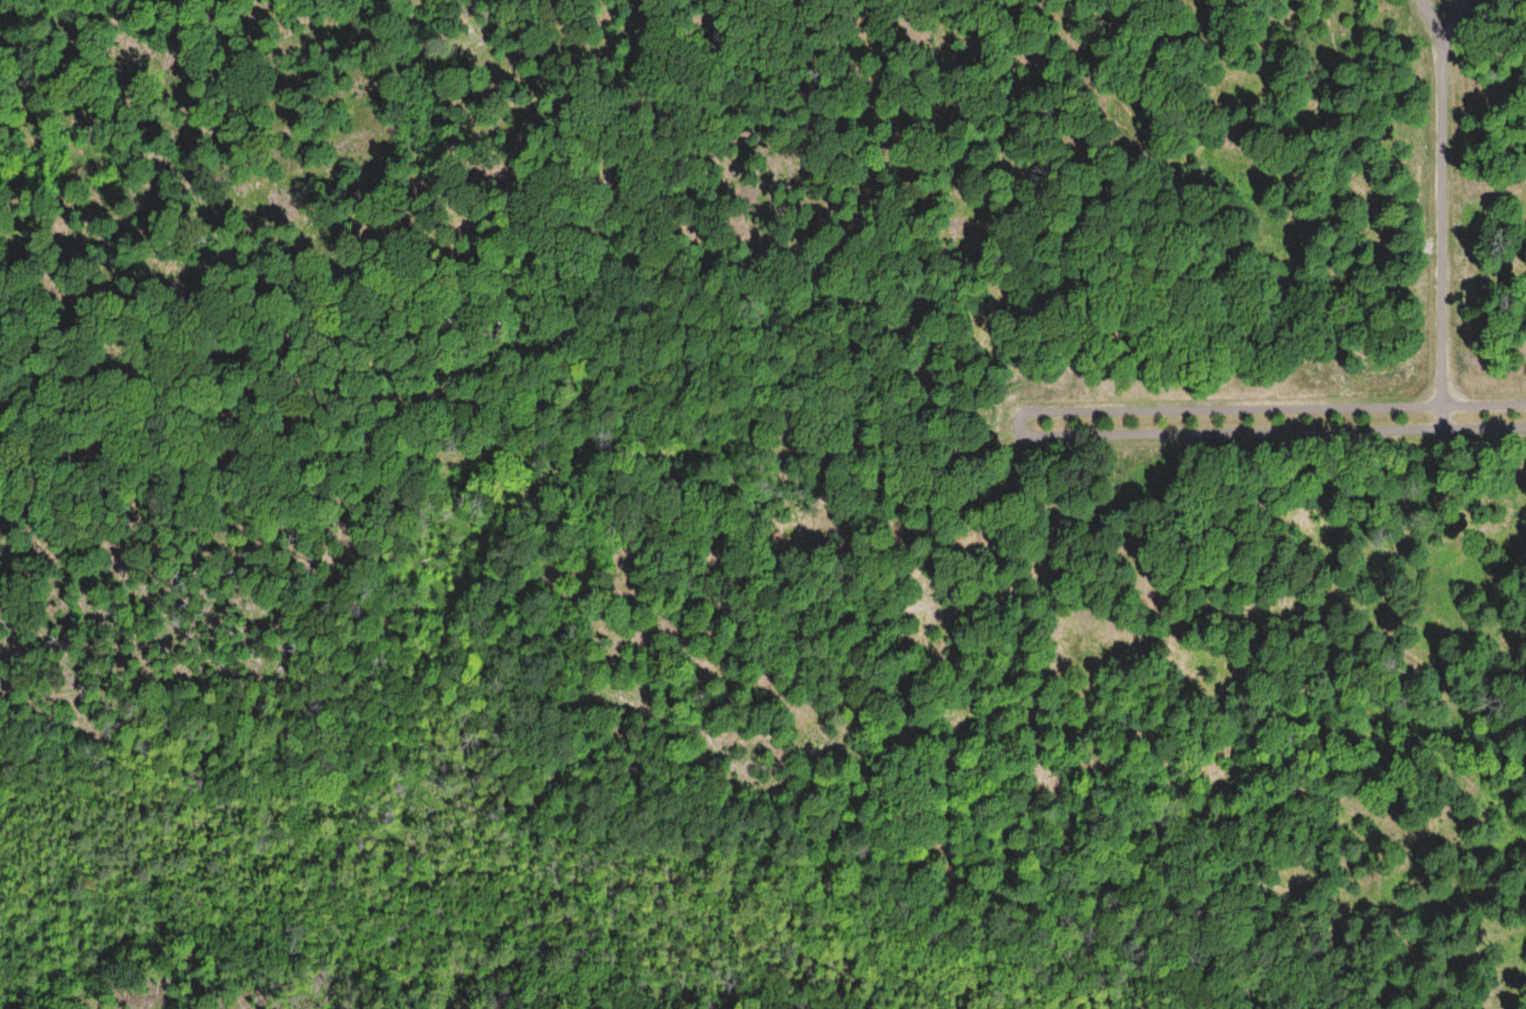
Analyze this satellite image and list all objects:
road: (664, 129)
road: (1444, 215)
road: (813, 304)
road: (299, 322)
road: (1022, 425)

